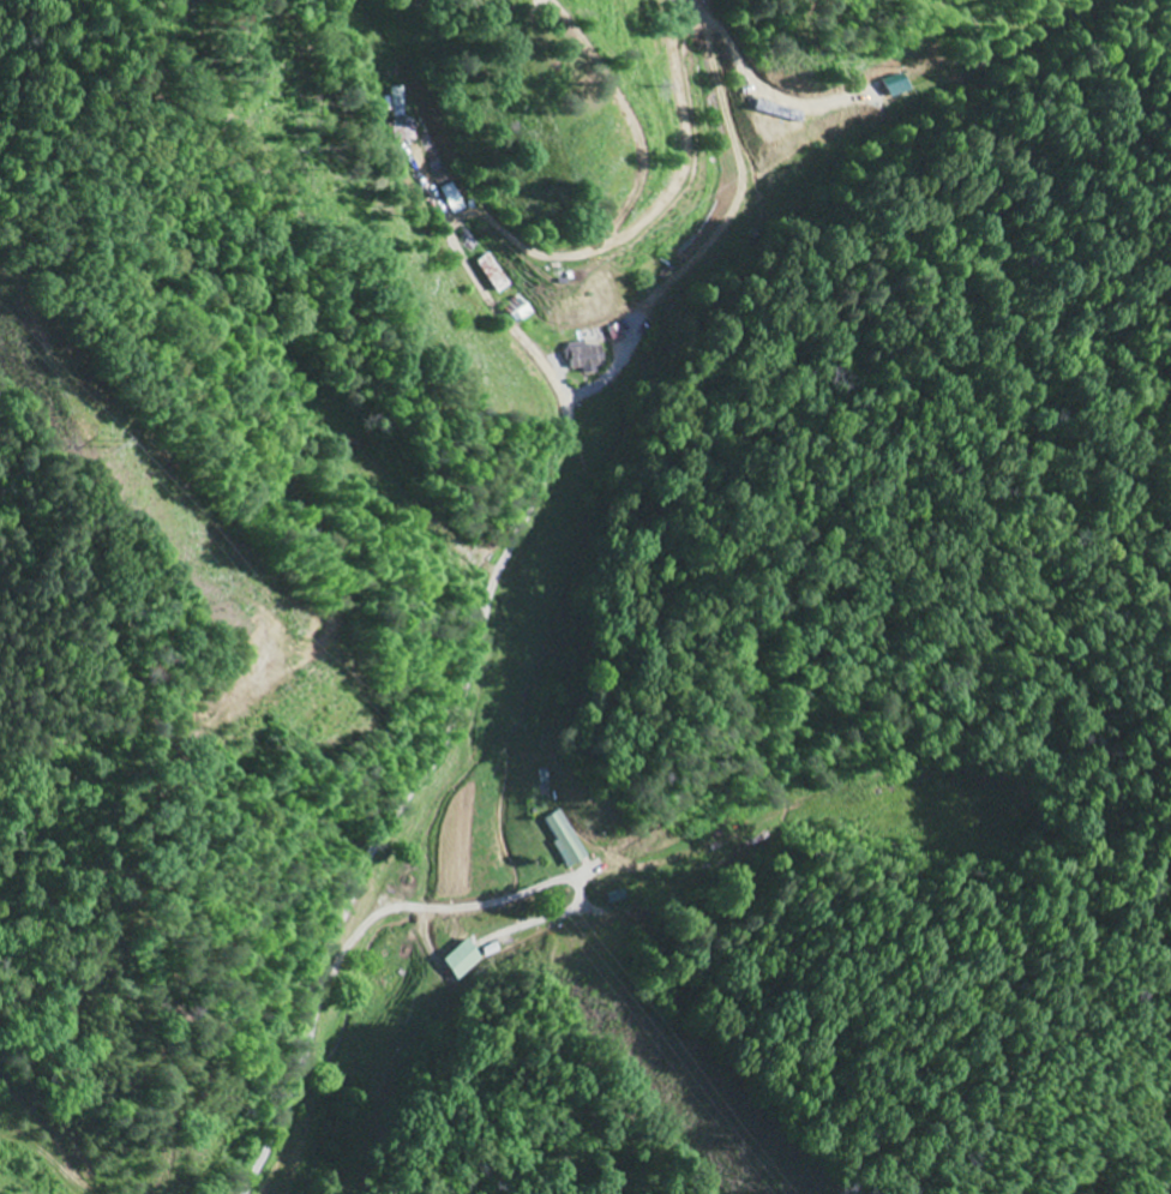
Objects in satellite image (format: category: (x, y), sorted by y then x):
building: (404, 104)
building: (460, 198)
building: (500, 272)
building: (585, 356)
road: (400, 784)
building: (566, 839)
building: (620, 896)
building: (464, 960)

